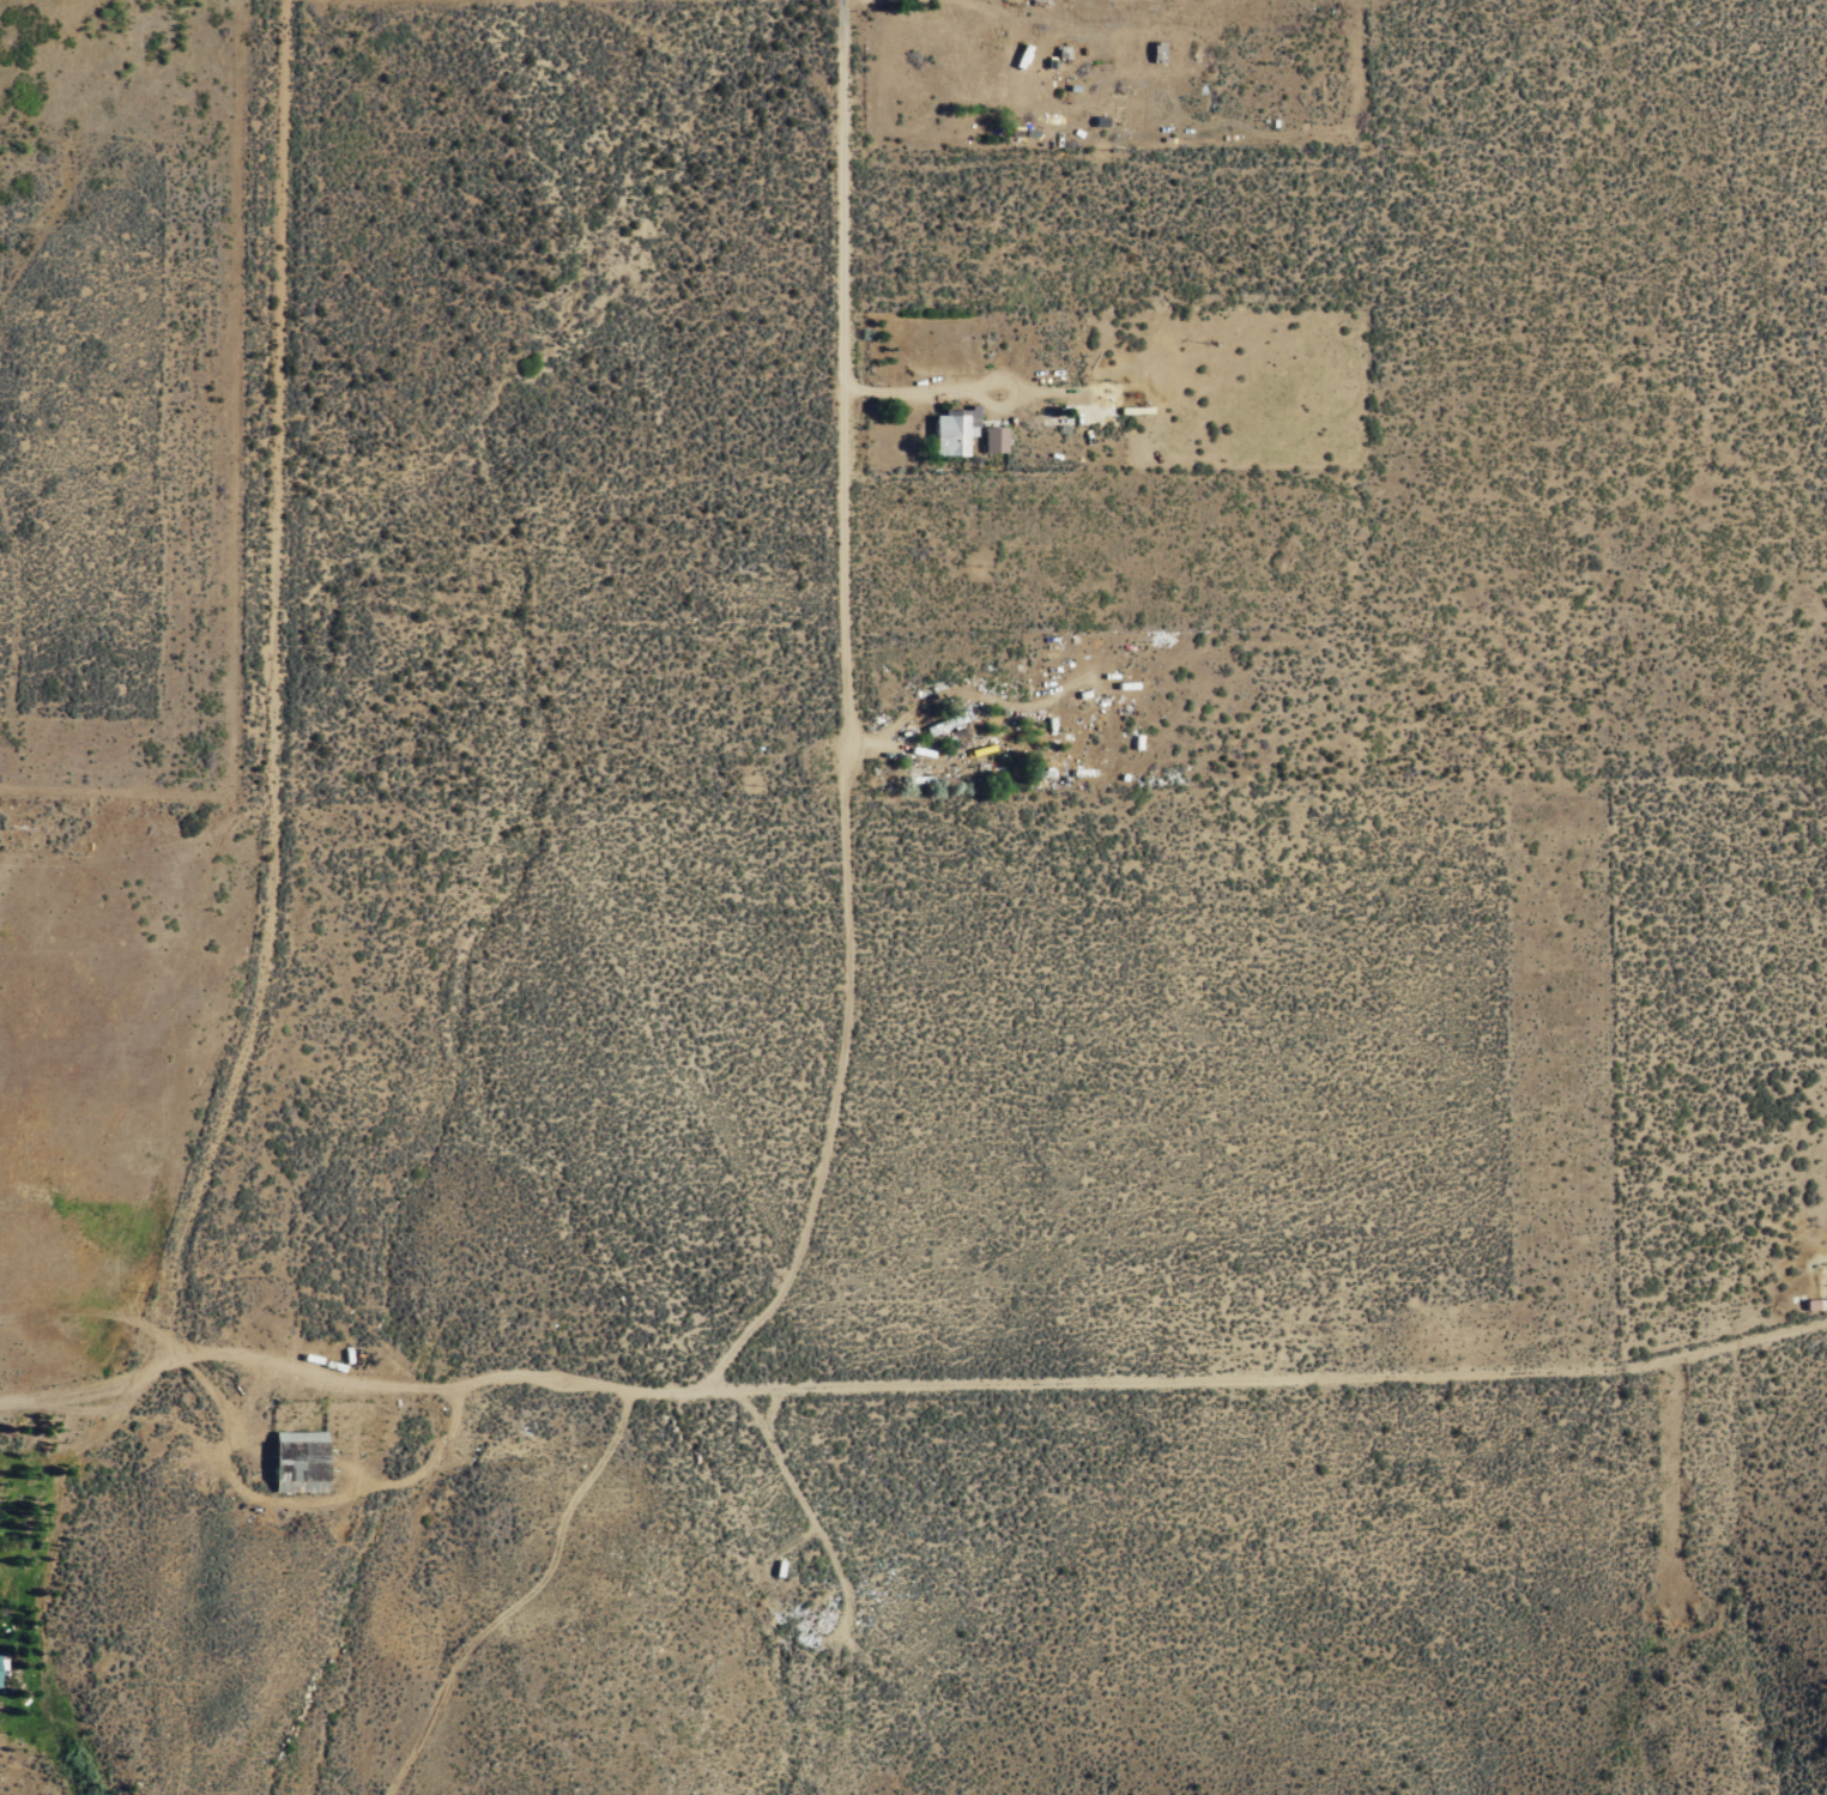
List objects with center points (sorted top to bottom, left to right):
road: (841, 379)
building: (950, 430)
building: (991, 439)
road: (273, 747)
road: (991, 1382)

